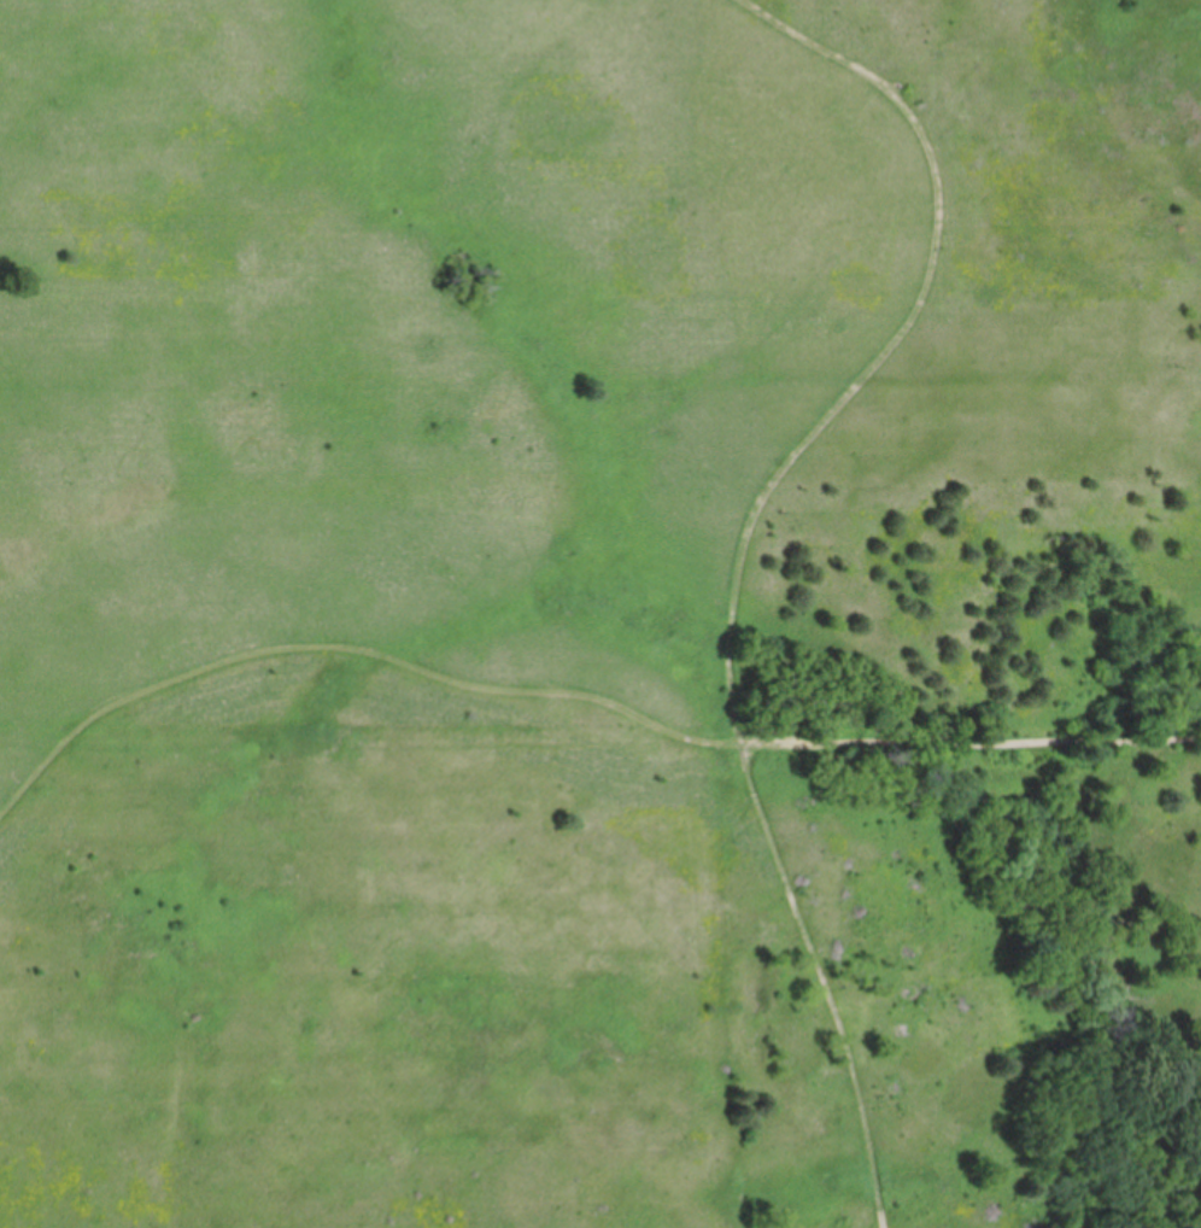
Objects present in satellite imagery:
road: (894, 341)
park: (600, 614)
road: (350, 644)
road: (971, 738)
road: (824, 982)

